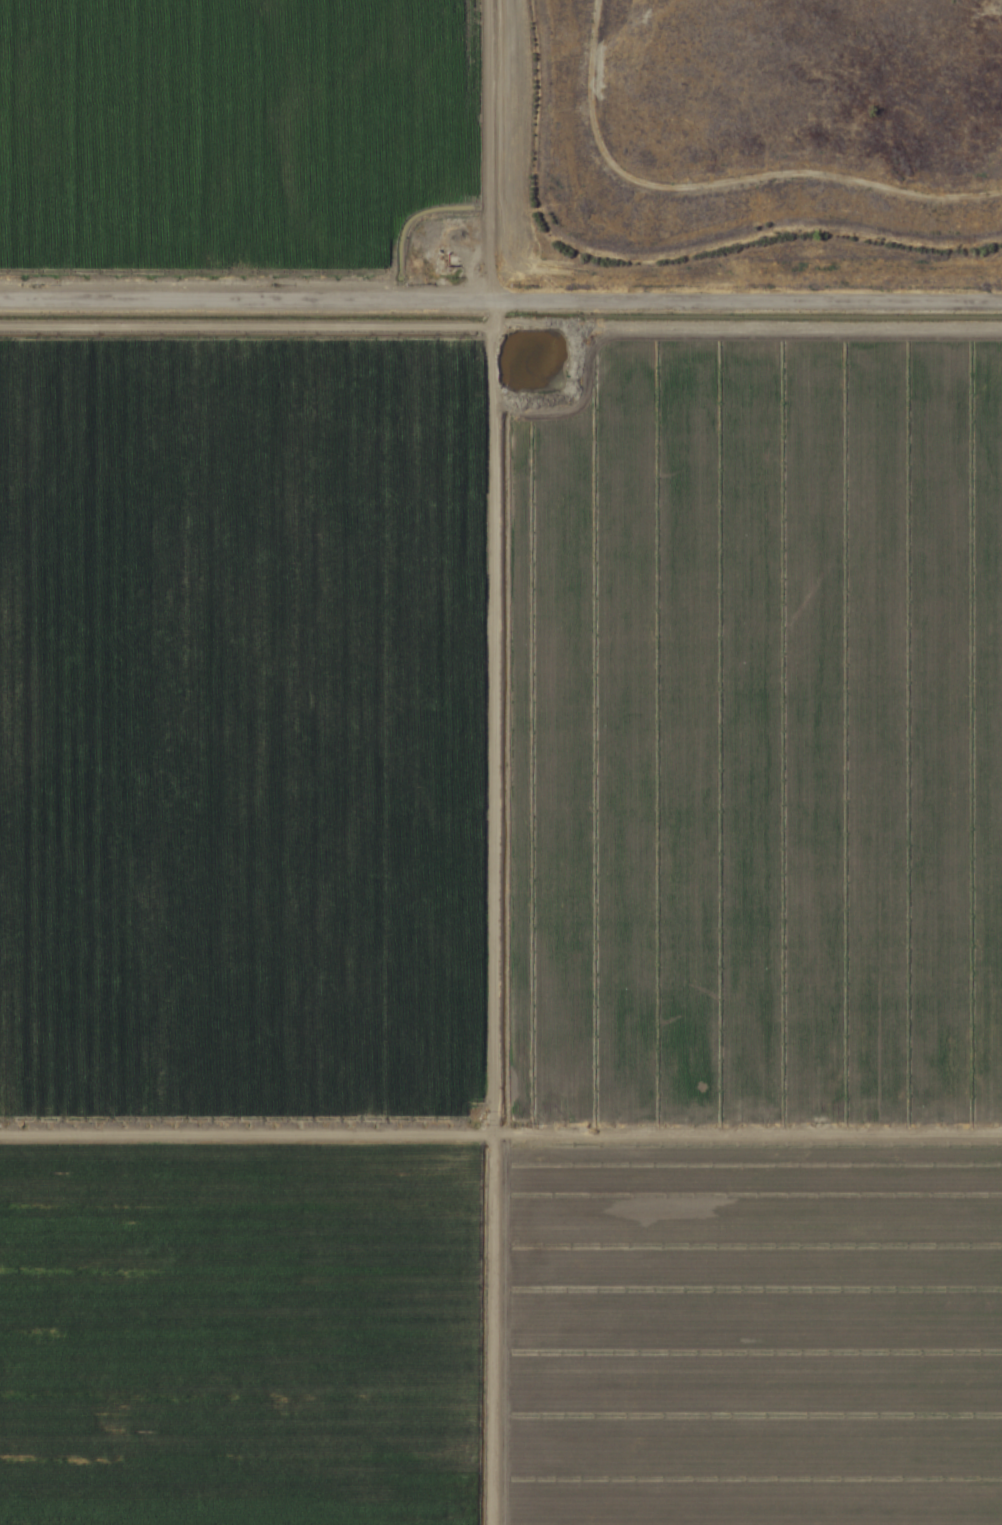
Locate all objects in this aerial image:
road: (501, 300)
road: (501, 1129)

